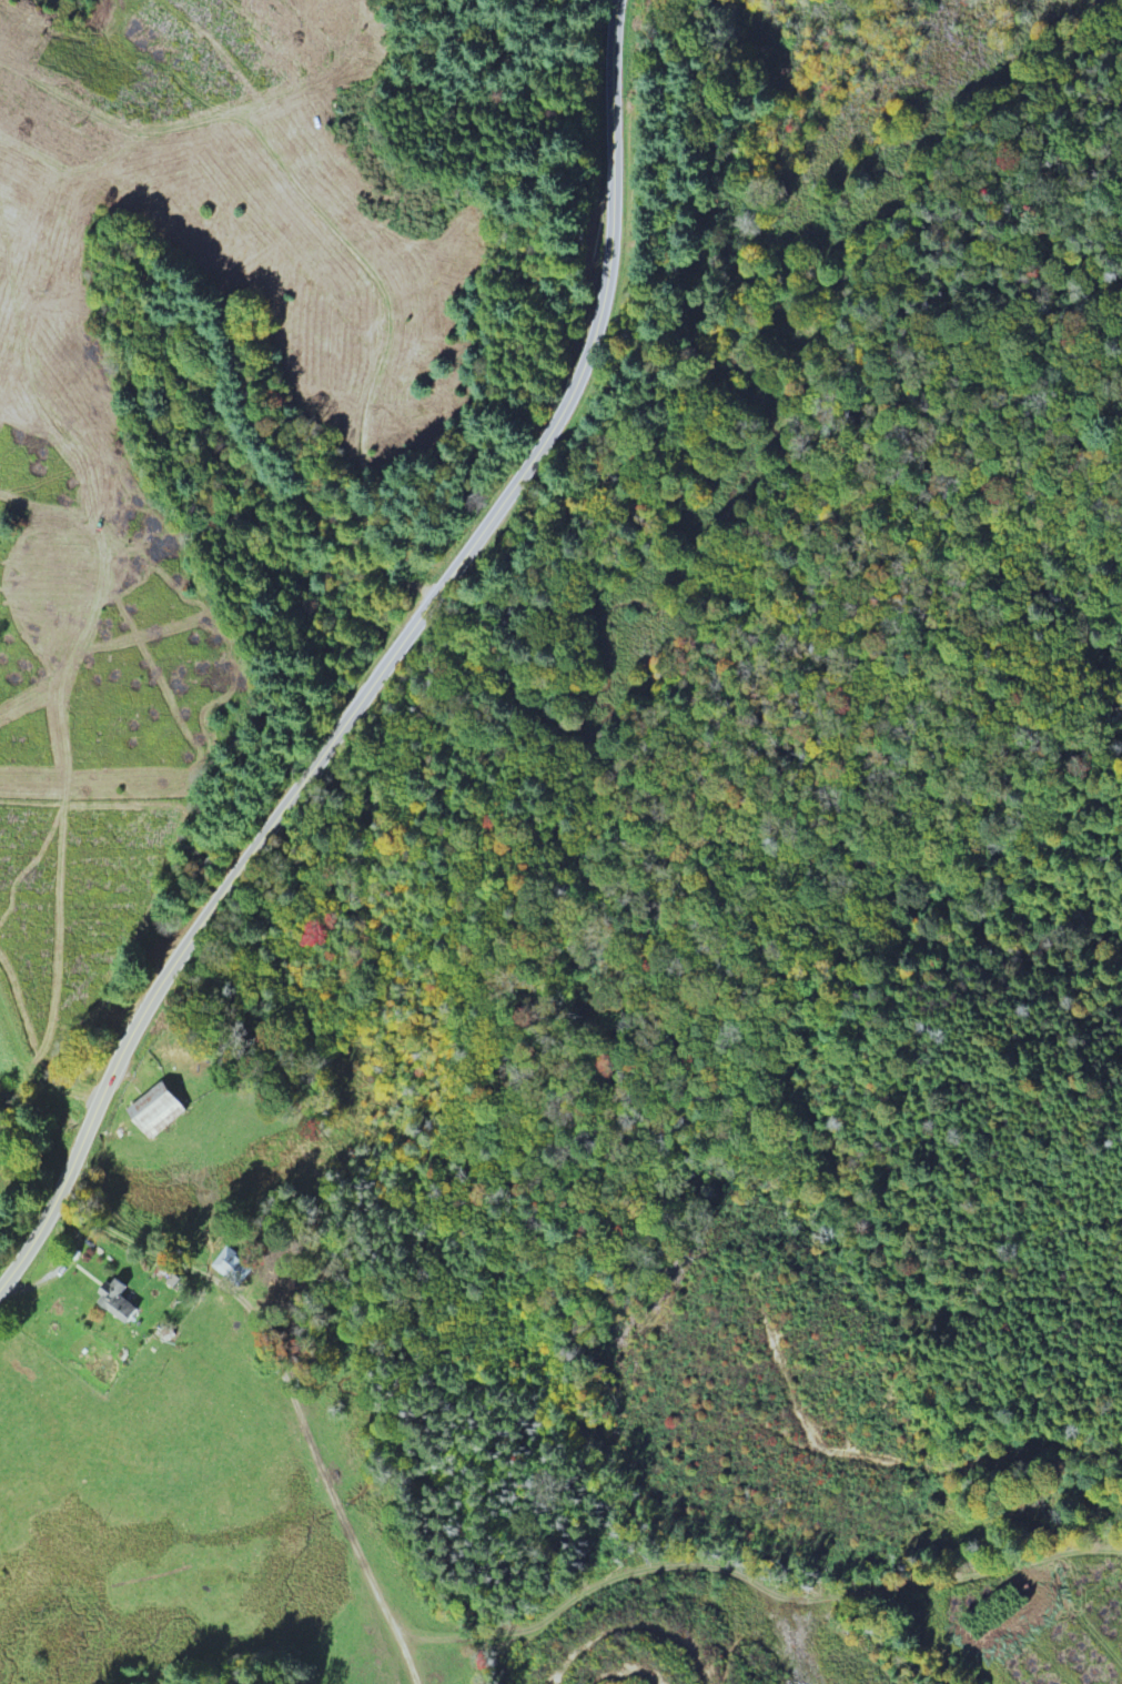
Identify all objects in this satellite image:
road: (384, 666)
road: (287, 1393)

